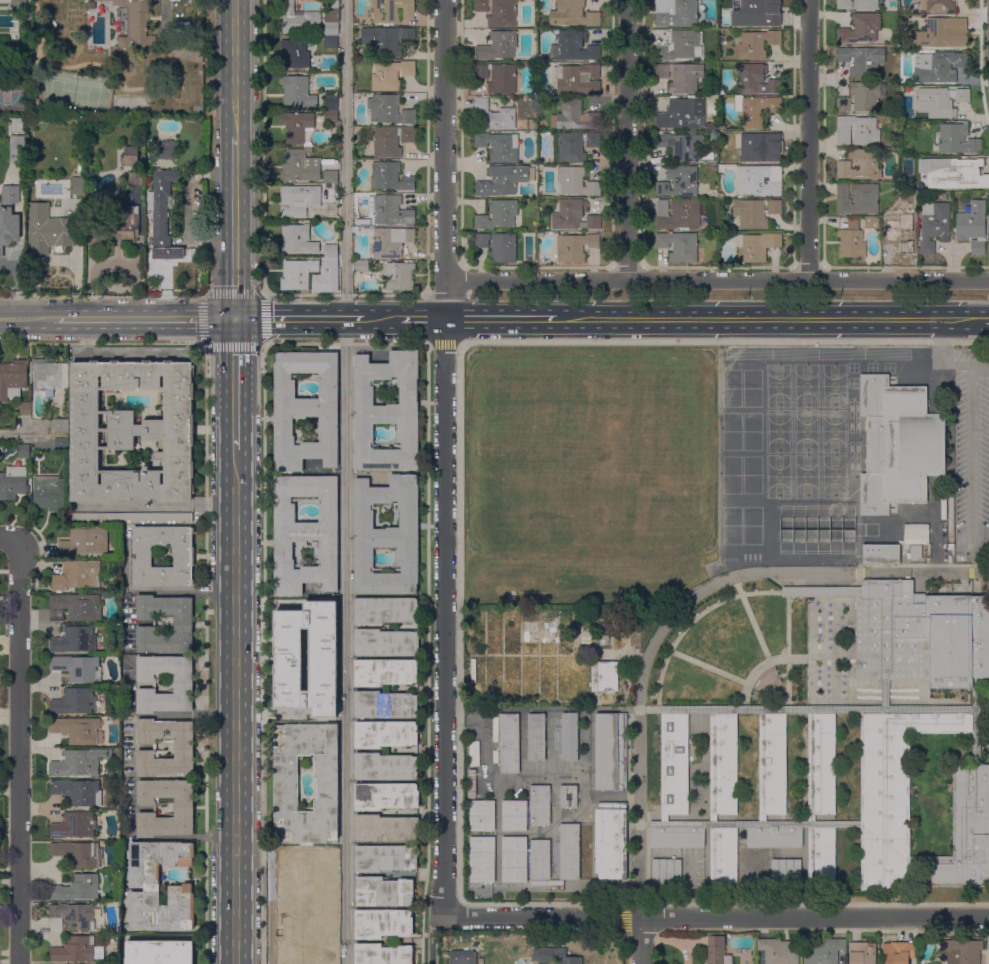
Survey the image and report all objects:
building: (6, 1)
building: (858, 4)
building: (891, 5)
building: (937, 5)
building: (392, 10)
building: (499, 12)
building: (676, 13)
building: (573, 14)
building: (758, 14)
building: (298, 19)
building: (332, 19)
building: (861, 28)
building: (135, 29)
building: (944, 33)
building: (0, 36)
building: (387, 39)
building: (330, 42)
building: (757, 44)
building: (680, 45)
building: (499, 46)
building: (573, 47)
building: (894, 50)
road: (179, 53)
building: (296, 54)
building: (863, 60)
building: (938, 67)
road: (237, 68)
building: (391, 75)
building: (681, 76)
building: (498, 77)
building: (577, 79)
building: (757, 80)
building: (297, 91)
building: (861, 98)
building: (943, 101)
building: (331, 103)
building: (757, 109)
building: (389, 110)
building: (494, 115)
building: (681, 115)
building: (575, 116)
building: (332, 117)
building: (16, 124)
building: (296, 126)
building: (715, 128)
building: (857, 131)
building: (140, 135)
building: (775, 139)
building: (958, 139)
building: (593, 140)
road: (627, 140)
road: (808, 140)
building: (391, 141)
building: (499, 146)
building: (681, 146)
road: (262, 147)
building: (571, 148)
building: (167, 149)
building: (757, 149)
building: (17, 150)
building: (130, 156)
building: (710, 156)
building: (859, 165)
building: (300, 166)
building: (726, 167)
building: (81, 169)
building: (969, 174)
building: (331, 176)
building: (390, 177)
building: (136, 178)
building: (504, 180)
building: (576, 181)
building: (759, 181)
building: (679, 182)
building: (78, 186)
building: (337, 187)
building: (899, 187)
building: (714, 195)
building: (858, 199)
building: (299, 200)
building: (162, 206)
building: (390, 210)
building: (94, 212)
building: (755, 212)
building: (678, 214)
building: (498, 215)
building: (574, 216)
building: (9, 217)
building: (362, 223)
building: (872, 223)
building: (125, 224)
building: (334, 226)
building: (934, 226)
building: (973, 226)
road: (235, 227)
building: (48, 230)
building: (356, 230)
building: (900, 231)
building: (540, 235)
building: (97, 236)
building: (298, 239)
building: (391, 241)
building: (852, 243)
building: (988, 244)
building: (679, 246)
building: (756, 246)
building: (498, 247)
building: (575, 247)
building: (331, 251)
road: (55, 258)
building: (331, 263)
building: (362, 266)
building: (300, 275)
building: (399, 277)
building: (150, 279)
road: (716, 281)
road: (17, 285)
road: (261, 294)
traffic signals: (236, 318)
road: (299, 318)
road: (381, 318)
road: (422, 318)
road: (498, 318)
road: (768, 318)
road: (986, 318)
road: (26, 319)
road: (144, 319)
road: (942, 330)
road: (346, 343)
road: (942, 357)
road: (969, 365)
building: (50, 375)
building: (13, 378)
road: (236, 384)
building: (25, 408)
building: (306, 410)
building: (387, 412)
building: (61, 426)
building: (132, 431)
park: (804, 432)
road: (22, 436)
building: (62, 445)
building: (898, 445)
building: (23, 450)
parking lot: (971, 452)
road: (970, 463)
park: (588, 477)
road: (346, 481)
building: (13, 482)
road: (443, 483)
building: (51, 492)
road: (158, 506)
building: (130, 517)
building: (306, 533)
building: (387, 535)
building: (916, 536)
road: (6, 538)
building: (85, 541)
road: (980, 549)
building: (915, 551)
building: (880, 553)
building: (184, 556)
road: (971, 567)
road: (772, 572)
building: (78, 575)
building: (76, 608)
building: (386, 610)
road: (751, 620)
road: (691, 621)
road: (458, 622)
building: (183, 623)
building: (915, 633)
building: (75, 639)
building: (386, 643)
road: (787, 647)
park: (723, 652)
road: (205, 654)
road: (263, 654)
road: (427, 654)
building: (307, 659)
building: (79, 668)
road: (707, 668)
road: (759, 669)
building: (385, 672)
building: (605, 676)
road: (884, 681)
building: (184, 686)
building: (75, 702)
building: (385, 705)
road: (236, 707)
road: (806, 710)
building: (294, 712)
road: (976, 726)
building: (78, 730)
building: (385, 734)
building: (537, 737)
building: (570, 738)
building: (509, 743)
building: (184, 747)
building: (977, 748)
road: (19, 752)
building: (610, 752)
building: (80, 762)
building: (678, 764)
building: (776, 764)
building: (826, 764)
building: (727, 765)
building: (385, 767)
road: (810, 767)
road: (662, 768)
road: (711, 768)
road: (760, 768)
building: (472, 784)
building: (287, 789)
building: (79, 792)
building: (386, 796)
building: (568, 797)
road: (638, 803)
building: (884, 803)
building: (540, 805)
building: (185, 808)
building: (482, 815)
building: (514, 817)
road: (761, 825)
building: (75, 826)
building: (386, 829)
building: (677, 838)
building: (774, 839)
building: (610, 842)
building: (569, 852)
building: (79, 853)
building: (821, 855)
building: (722, 857)
building: (386, 858)
building: (482, 860)
building: (514, 860)
building: (540, 860)
building: (786, 872)
building: (667, 873)
parking lot: (676, 873)
building: (145, 887)
building: (77, 888)
building: (384, 892)
building: (324, 893)
building: (72, 917)
road: (542, 917)
road: (815, 917)
building: (383, 924)
building: (450, 938)
road: (642, 940)
building: (717, 949)
building: (77, 950)
building: (780, 951)
building: (824, 951)
building: (159, 952)
building: (962, 952)
building: (862, 953)
building: (898, 953)
building: (313, 954)
building: (383, 954)
building: (446, 954)
building: (554, 956)
building: (464, 957)

